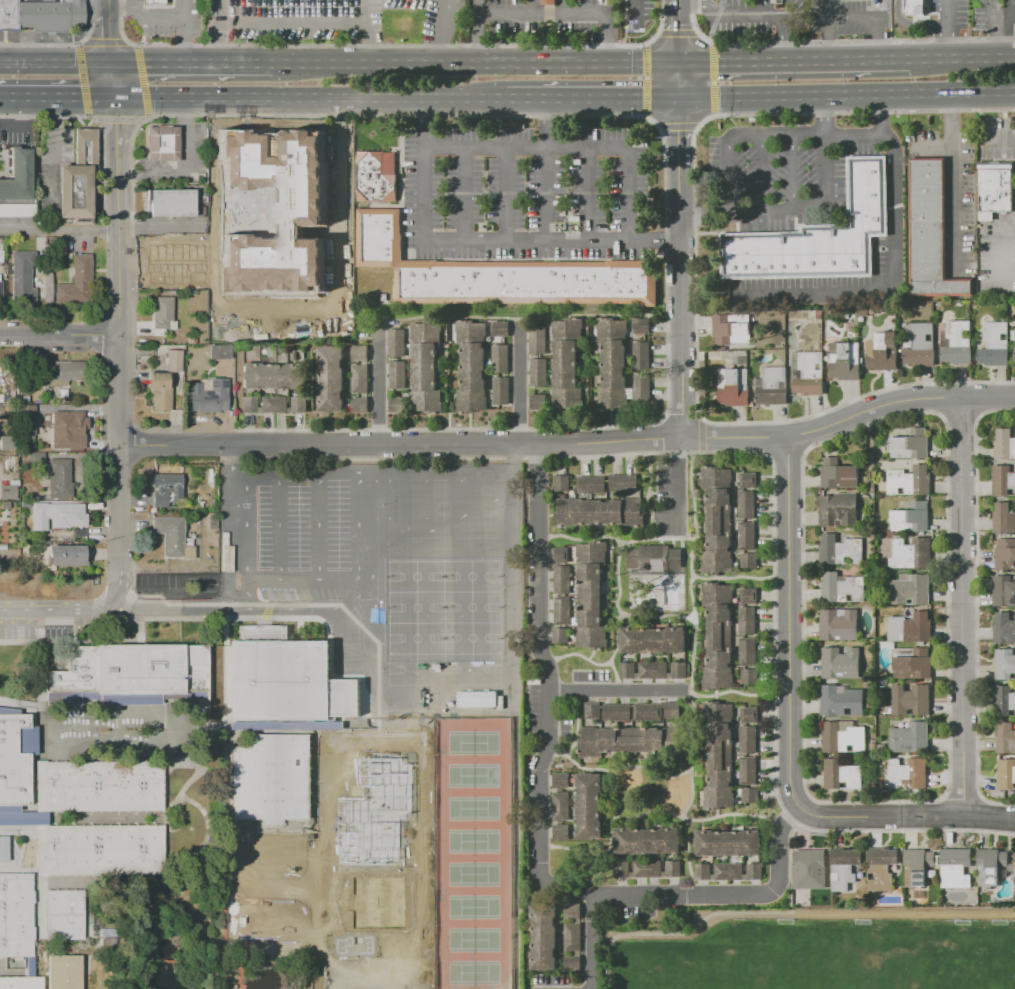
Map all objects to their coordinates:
road: (677, 0)
building: (549, 1)
building: (153, 2)
road: (136, 3)
road: (763, 7)
road: (787, 7)
building: (915, 7)
road: (184, 8)
road: (678, 8)
road: (569, 13)
road: (756, 14)
building: (41, 15)
road: (1006, 15)
road: (143, 16)
road: (875, 17)
road: (293, 22)
road: (914, 22)
road: (998, 26)
road: (948, 29)
road: (441, 30)
road: (829, 31)
road: (221, 32)
road: (366, 32)
road: (478, 32)
road: (678, 39)
road: (185, 40)
road: (961, 58)
road: (793, 62)
road: (643, 64)
traffic signals: (678, 64)
road: (54, 65)
traffic signals: (109, 65)
road: (191, 65)
road: (441, 65)
road: (678, 81)
road: (847, 95)
road: (57, 98)
traffic signals: (115, 98)
road: (311, 99)
road: (593, 99)
traffic signals: (679, 99)
road: (186, 110)
road: (427, 112)
road: (880, 114)
road: (826, 115)
road: (952, 121)
road: (18, 122)
road: (548, 123)
building: (224, 130)
road: (808, 135)
road: (426, 136)
road: (1000, 140)
building: (151, 142)
building: (299, 143)
building: (272, 146)
road: (527, 147)
building: (224, 149)
road: (934, 150)
building: (342, 157)
building: (300, 162)
building: (270, 165)
building: (224, 168)
building: (343, 170)
road: (792, 171)
road: (187, 172)
road: (729, 173)
road: (127, 174)
building: (376, 176)
road: (764, 176)
building: (17, 178)
building: (78, 178)
road: (896, 178)
building: (275, 186)
building: (304, 186)
building: (996, 188)
building: (341, 189)
road: (424, 193)
road: (465, 193)
road: (506, 193)
road: (546, 194)
road: (589, 194)
road: (630, 195)
building: (303, 201)
building: (173, 202)
building: (277, 202)
building: (223, 207)
road: (805, 207)
road: (954, 210)
building: (17, 212)
building: (343, 215)
building: (276, 228)
building: (304, 228)
road: (1005, 229)
building: (343, 230)
road: (101, 231)
building: (932, 232)
building: (816, 235)
building: (304, 238)
road: (540, 240)
road: (668, 241)
road: (703, 241)
building: (227, 243)
building: (288, 243)
building: (271, 244)
building: (343, 248)
building: (212, 250)
building: (305, 253)
building: (378, 253)
road: (995, 253)
building: (348, 254)
building: (276, 255)
building: (343, 261)
building: (226, 262)
building: (164, 265)
building: (305, 267)
road: (679, 269)
building: (273, 270)
road: (694, 271)
building: (341, 273)
building: (22, 277)
road: (1005, 277)
building: (527, 280)
building: (223, 281)
building: (77, 282)
building: (273, 283)
building: (303, 284)
road: (116, 285)
building: (0, 288)
building: (342, 289)
road: (851, 294)
building: (271, 297)
building: (226, 301)
building: (342, 304)
road: (287, 311)
building: (163, 313)
building: (342, 317)
building: (226, 320)
building: (269, 327)
building: (641, 327)
building: (500, 329)
building: (730, 330)
building: (1013, 335)
road: (58, 339)
building: (538, 340)
building: (396, 342)
building: (956, 343)
building: (994, 343)
building: (921, 344)
building: (883, 351)
building: (220, 352)
building: (360, 353)
building: (642, 356)
building: (501, 359)
building: (174, 360)
building: (845, 360)
building: (614, 363)
building: (472, 365)
building: (567, 366)
building: (425, 368)
building: (62, 373)
building: (539, 373)
building: (808, 373)
building: (397, 375)
building: (273, 376)
building: (331, 378)
building: (360, 379)
road: (519, 383)
road: (378, 386)
building: (733, 386)
building: (774, 386)
building: (160, 389)
building: (643, 389)
building: (501, 391)
building: (209, 396)
building: (540, 402)
building: (248, 404)
building: (274, 404)
building: (398, 404)
building: (300, 405)
building: (359, 405)
building: (26, 421)
building: (61, 428)
building: (8, 443)
road: (571, 443)
building: (911, 444)
building: (1004, 444)
building: (31, 456)
road: (234, 461)
building: (838, 473)
road: (440, 475)
building: (59, 479)
building: (1002, 479)
building: (748, 480)
building: (909, 480)
road: (678, 481)
building: (562, 483)
building: (623, 483)
building: (592, 485)
building: (165, 488)
building: (8, 491)
building: (746, 504)
building: (839, 509)
building: (598, 512)
building: (57, 515)
building: (911, 517)
building: (1003, 518)
building: (718, 520)
road: (323, 528)
road: (366, 528)
parking lot: (304, 533)
building: (175, 535)
building: (747, 535)
building: (841, 549)
building: (911, 553)
building: (1005, 554)
building: (68, 555)
building: (561, 555)
building: (653, 558)
building: (749, 560)
park: (444, 567)
building: (563, 579)
road: (367, 585)
building: (842, 586)
building: (911, 589)
building: (1004, 590)
building: (591, 595)
building: (749, 596)
road: (72, 607)
road: (177, 608)
road: (293, 608)
building: (562, 610)
road: (966, 610)
building: (747, 620)
building: (839, 624)
building: (911, 627)
building: (1003, 627)
parking lot: (37, 628)
road: (800, 628)
building: (560, 635)
building: (719, 635)
building: (653, 640)
building: (748, 652)
building: (841, 662)
building: (1005, 663)
building: (914, 665)
building: (679, 669)
building: (627, 670)
building: (653, 670)
building: (750, 676)
building: (285, 679)
road: (622, 693)
building: (911, 699)
building: (842, 700)
building: (1003, 700)
building: (871, 702)
building: (593, 710)
building: (672, 710)
building: (648, 711)
building: (617, 712)
building: (750, 715)
building: (122, 726)
road: (303, 728)
road: (114, 730)
building: (843, 736)
building: (910, 737)
building: (1005, 738)
building: (632, 739)
building: (747, 739)
building: (873, 746)
building: (881, 746)
road: (31, 747)
park: (349, 752)
park: (400, 752)
building: (719, 754)
building: (747, 770)
building: (907, 772)
building: (1007, 773)
building: (842, 774)
building: (271, 779)
road: (165, 780)
building: (561, 780)
road: (183, 787)
park: (349, 791)
park: (401, 791)
building: (750, 796)
building: (589, 805)
building: (561, 806)
road: (82, 819)
road: (181, 819)
road: (908, 821)
road: (543, 823)
park: (349, 829)
park: (401, 829)
building: (561, 832)
road: (204, 834)
building: (647, 840)
building: (311, 843)
building: (728, 843)
building: (4, 849)
building: (104, 851)
park: (474, 853)
building: (1014, 860)
building: (990, 866)
building: (844, 867)
building: (919, 867)
building: (955, 867)
park: (350, 868)
park: (401, 868)
building: (622, 868)
building: (647, 868)
building: (673, 868)
building: (810, 868)
building: (881, 868)
building: (728, 870)
building: (703, 871)
building: (754, 871)
building: (238, 876)
road: (136, 882)
road: (791, 887)
park: (401, 906)
park: (350, 907)
building: (573, 910)
road: (802, 913)
road: (40, 916)
building: (63, 916)
building: (15, 917)
building: (545, 936)
building: (572, 937)
road: (598, 945)
park: (826, 955)
building: (572, 962)
park: (1001, 965)
building: (63, 973)
building: (20, 984)

